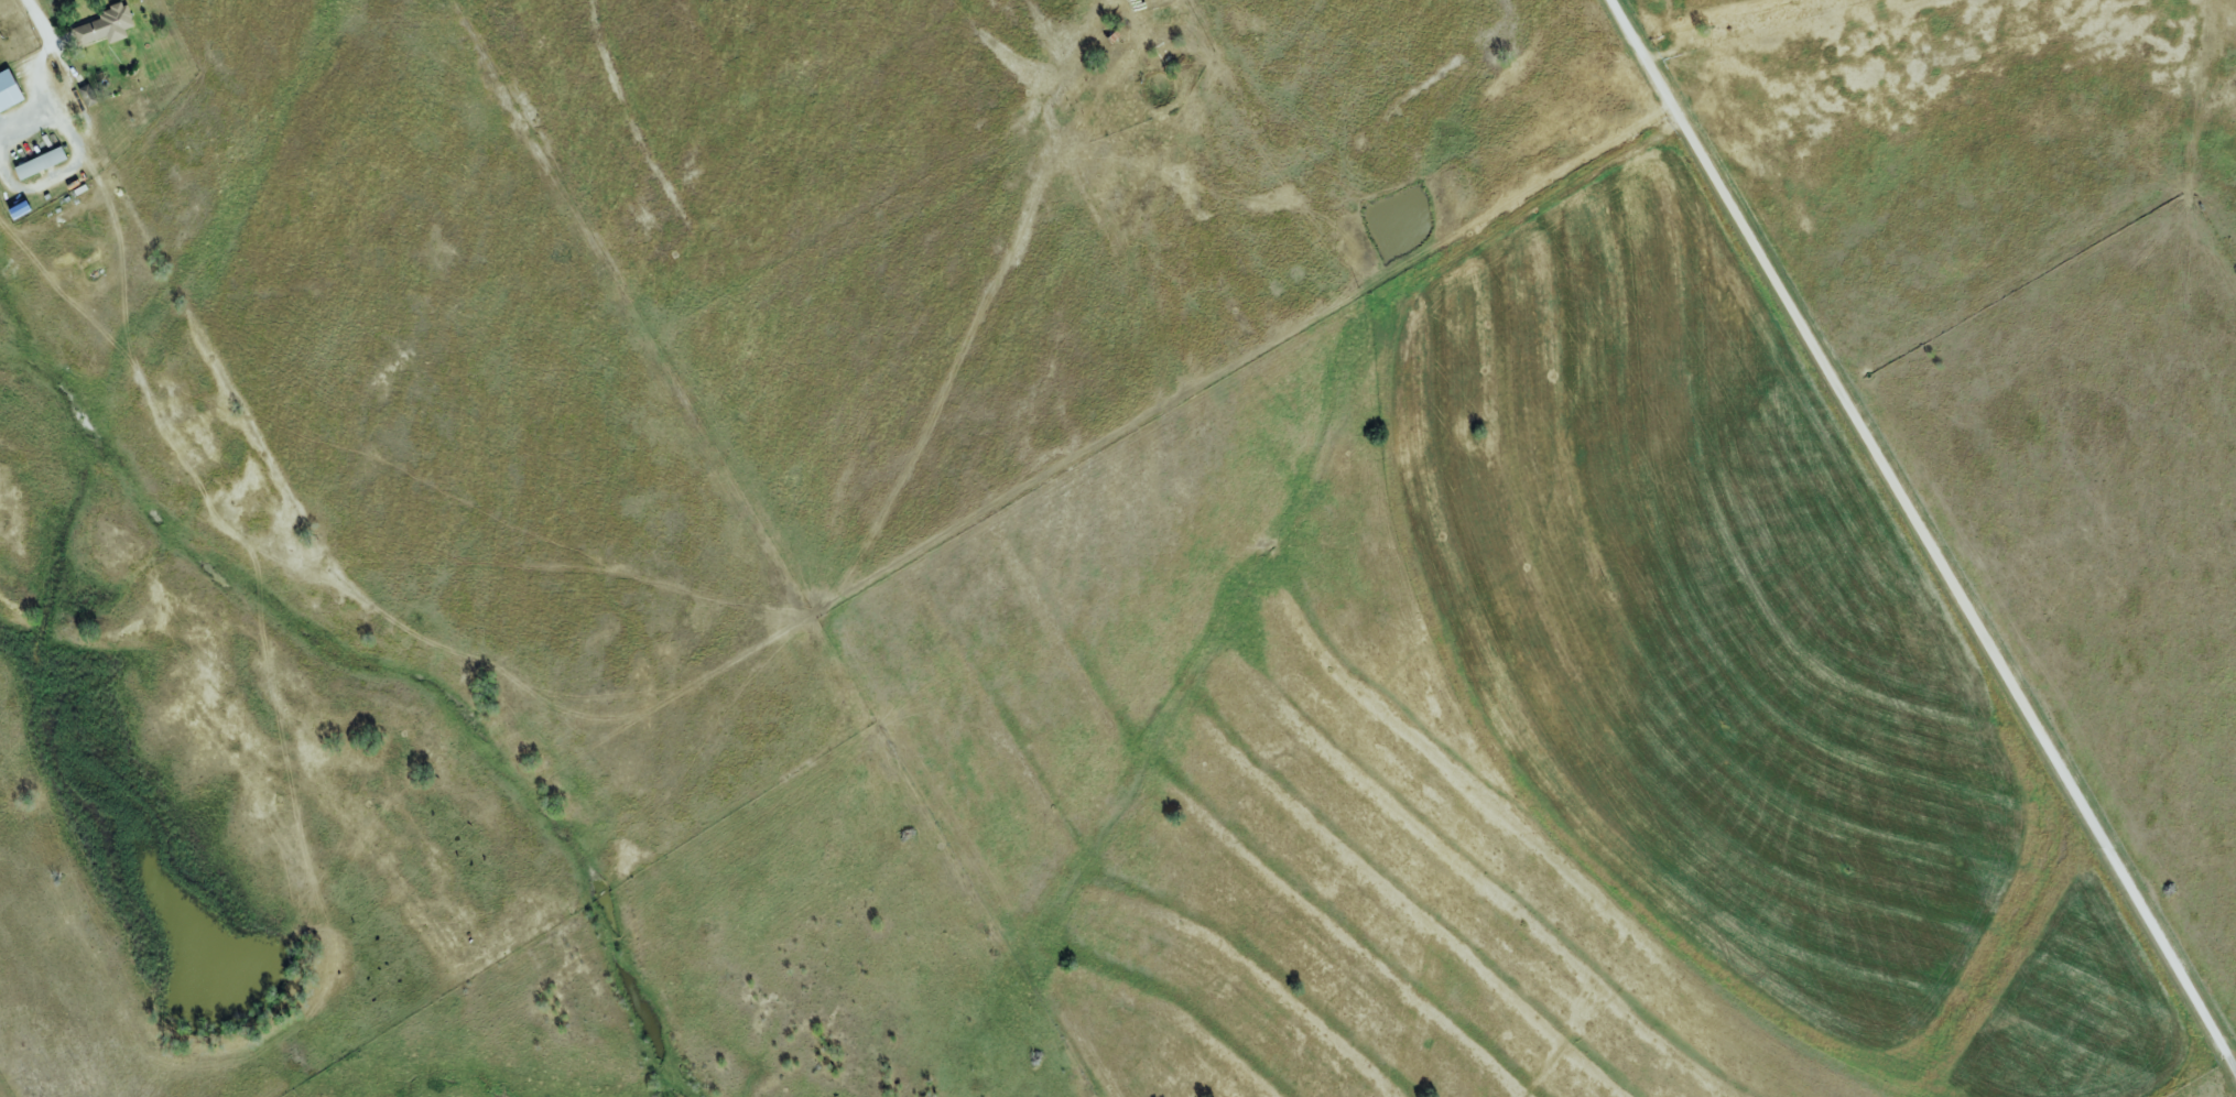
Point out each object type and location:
road: (1107, 2)
road: (39, 21)
building: (106, 26)
building: (11, 90)
building: (43, 163)
road: (1925, 530)

